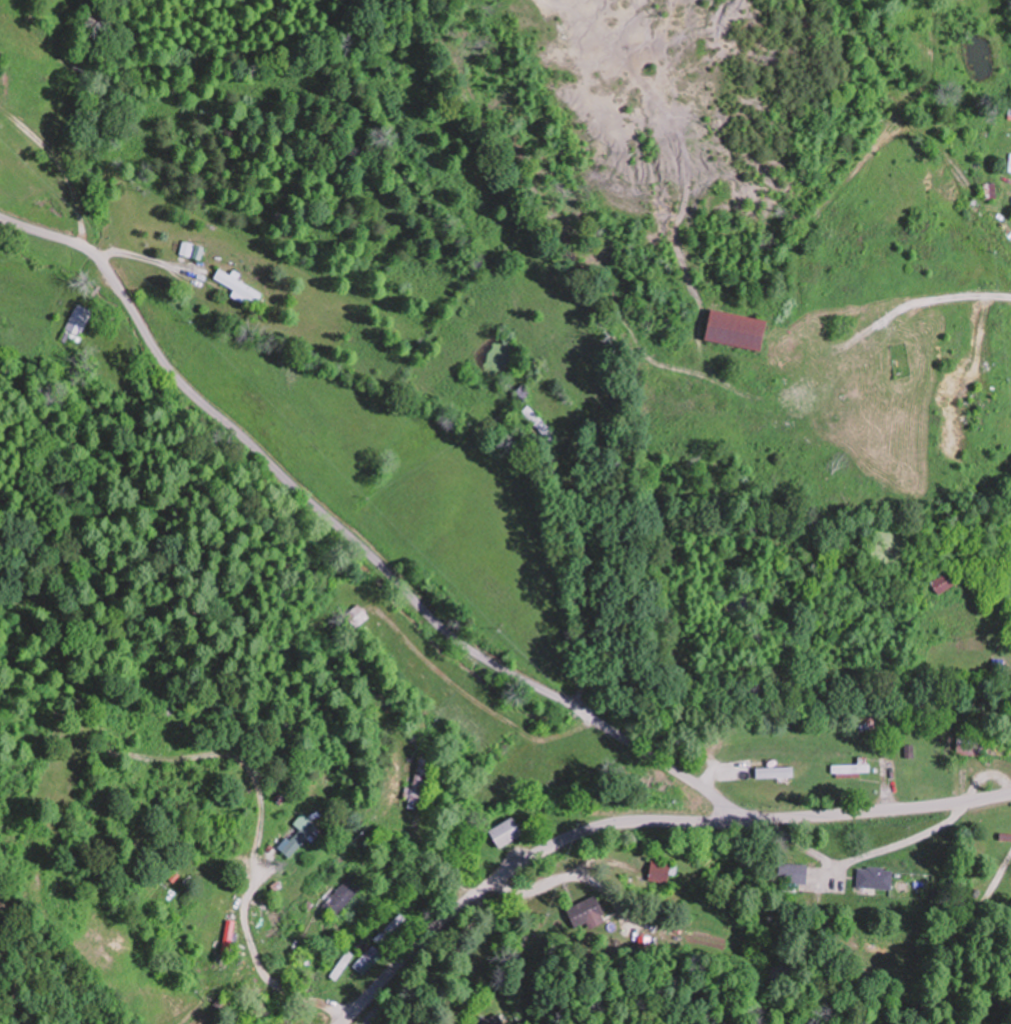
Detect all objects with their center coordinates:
building: (1010, 171)
road: (962, 179)
building: (188, 249)
building: (240, 286)
building: (78, 322)
building: (742, 330)
building: (538, 426)
road: (351, 540)
building: (948, 582)
building: (387, 639)
building: (429, 693)
building: (866, 723)
building: (971, 743)
building: (851, 768)
building: (775, 772)
building: (571, 775)
building: (497, 781)
building: (419, 783)
road: (642, 822)
building: (507, 832)
building: (303, 835)
building: (661, 871)
building: (795, 873)
building: (875, 877)
building: (343, 895)
building: (588, 914)
building: (387, 927)
building: (715, 946)
building: (886, 948)
building: (297, 949)
building: (364, 954)
building: (222, 1002)
building: (492, 1019)
building: (412, 1023)

